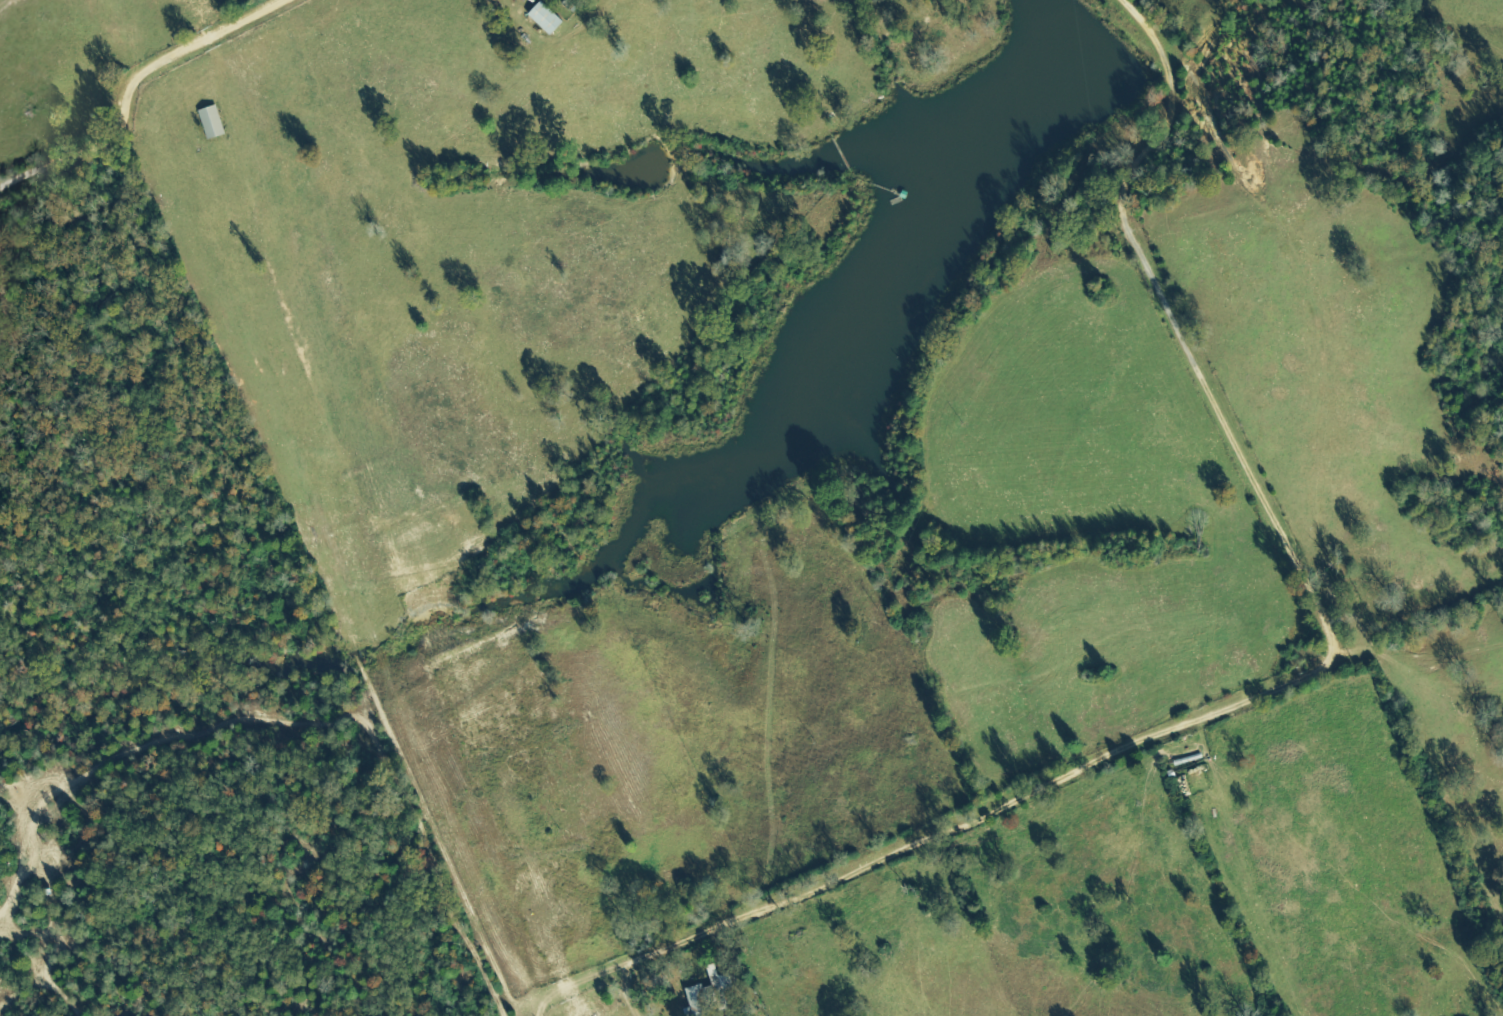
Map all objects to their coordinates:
building: (547, 18)
road: (128, 88)
building: (212, 123)
road: (1315, 672)

